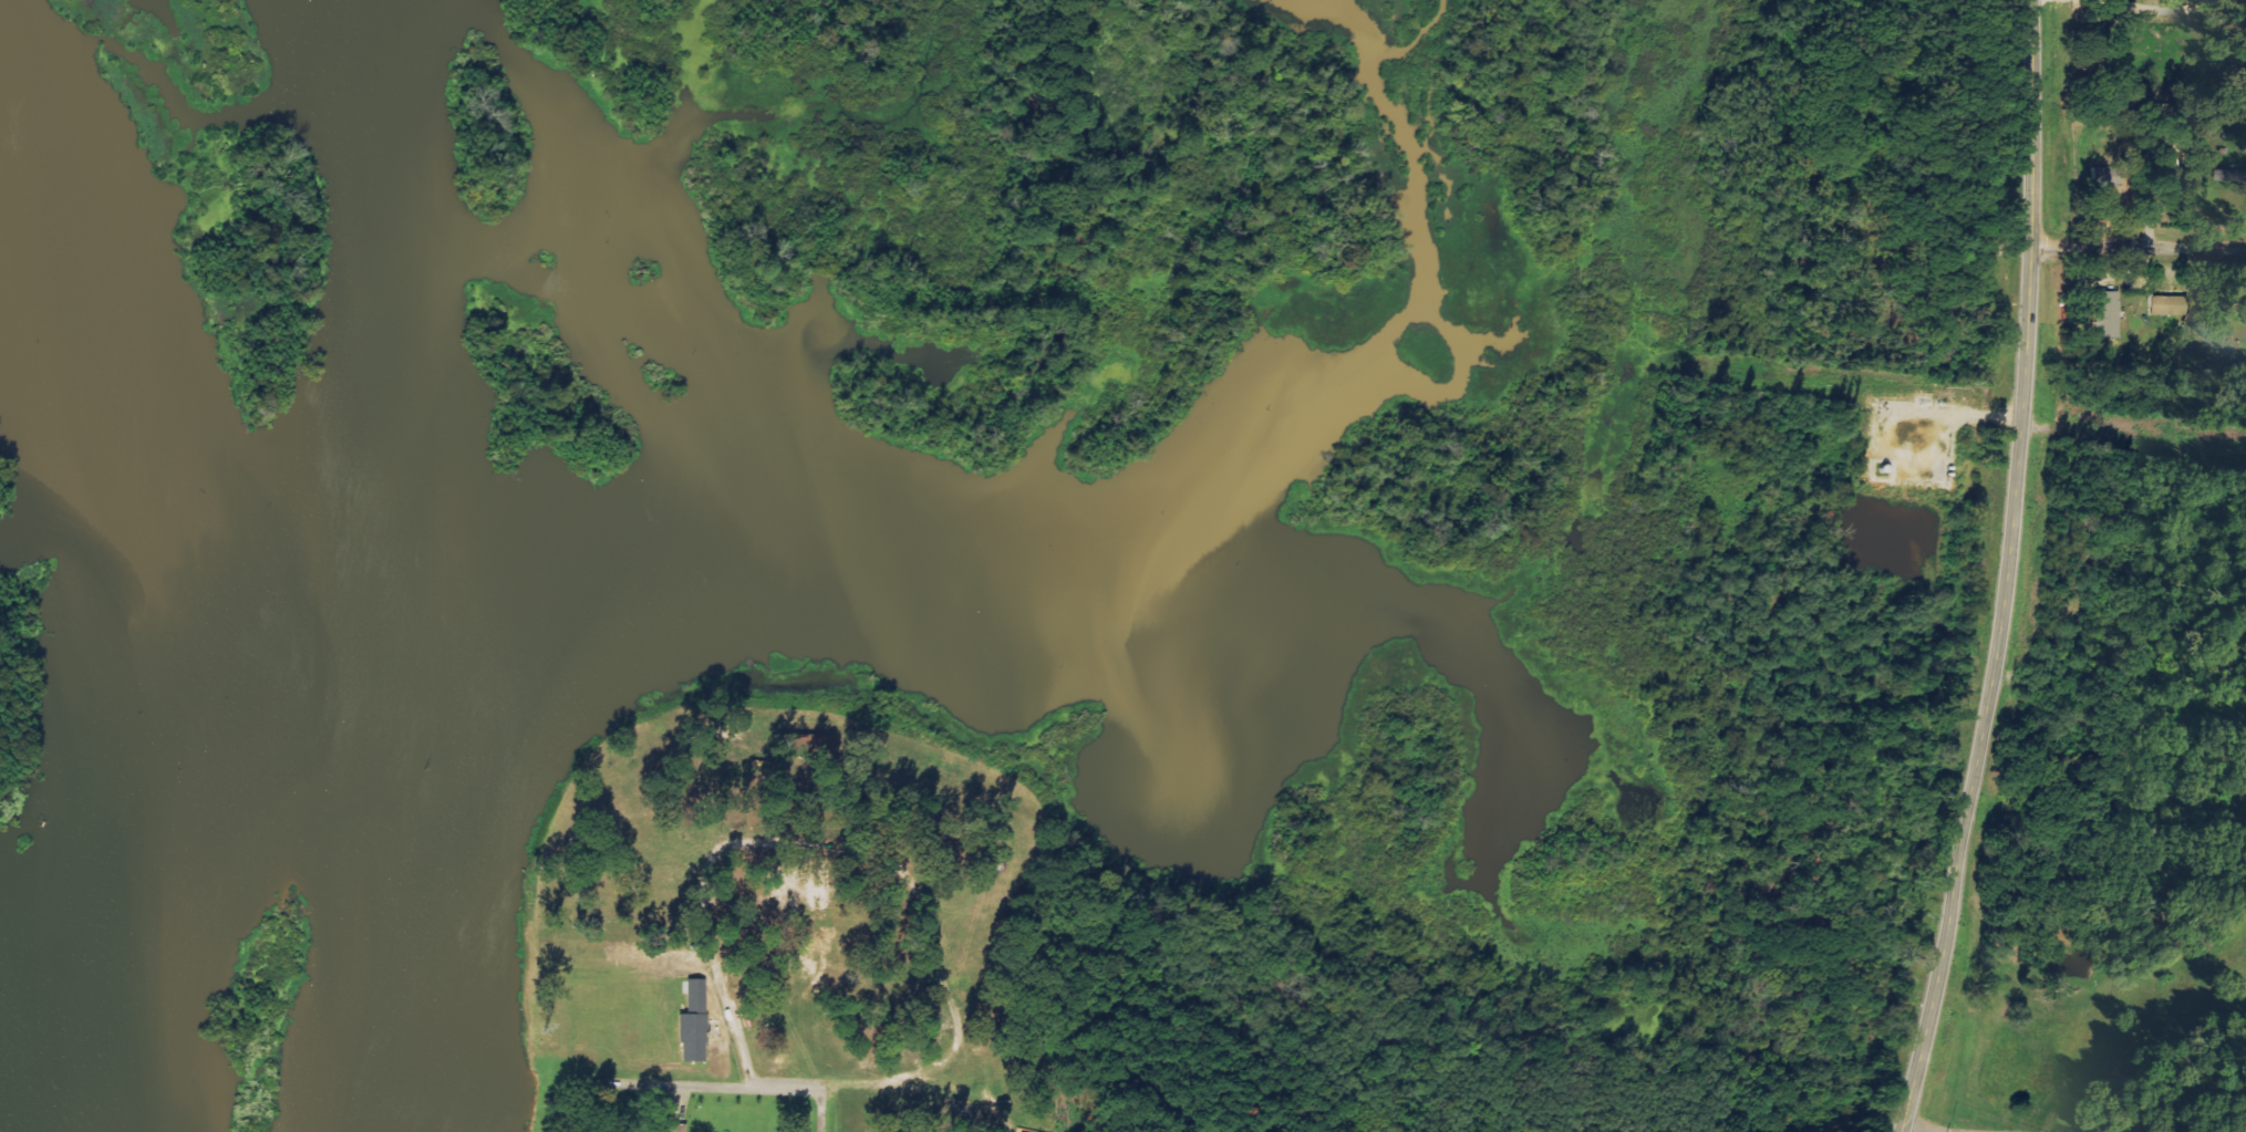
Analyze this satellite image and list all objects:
building: (2234, 174)
building: (2105, 176)
road: (2140, 248)
building: (2167, 304)
building: (2108, 313)
road: (2018, 571)
river: (271, 620)
building: (694, 1021)
road: (836, 1112)

